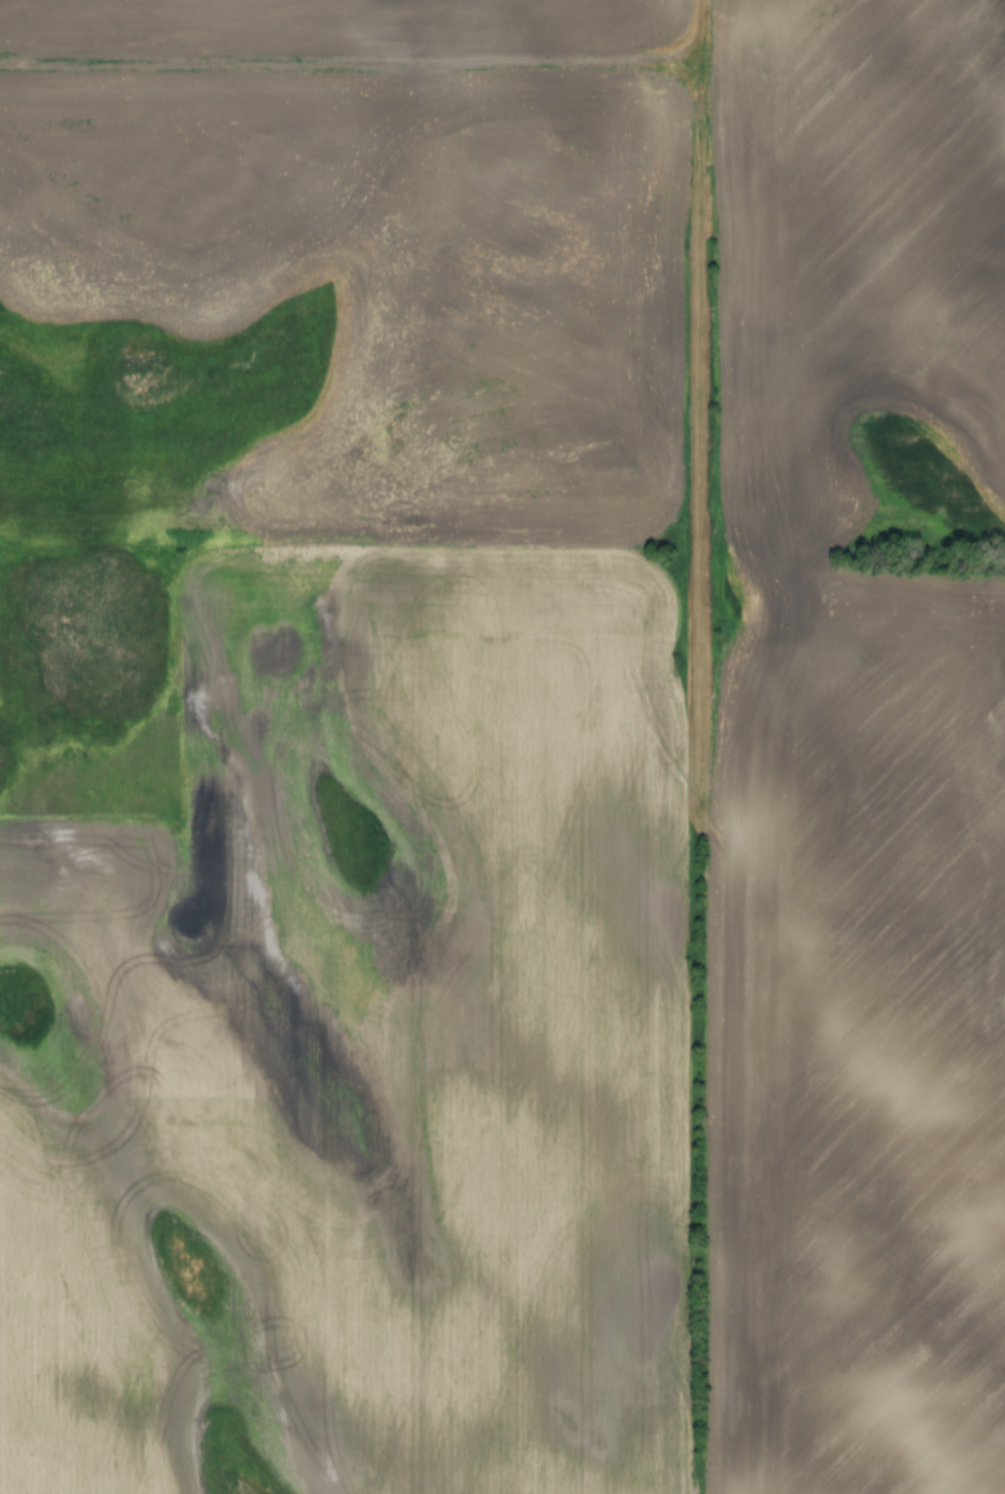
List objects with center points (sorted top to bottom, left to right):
road: (349, 61)
road: (700, 747)

